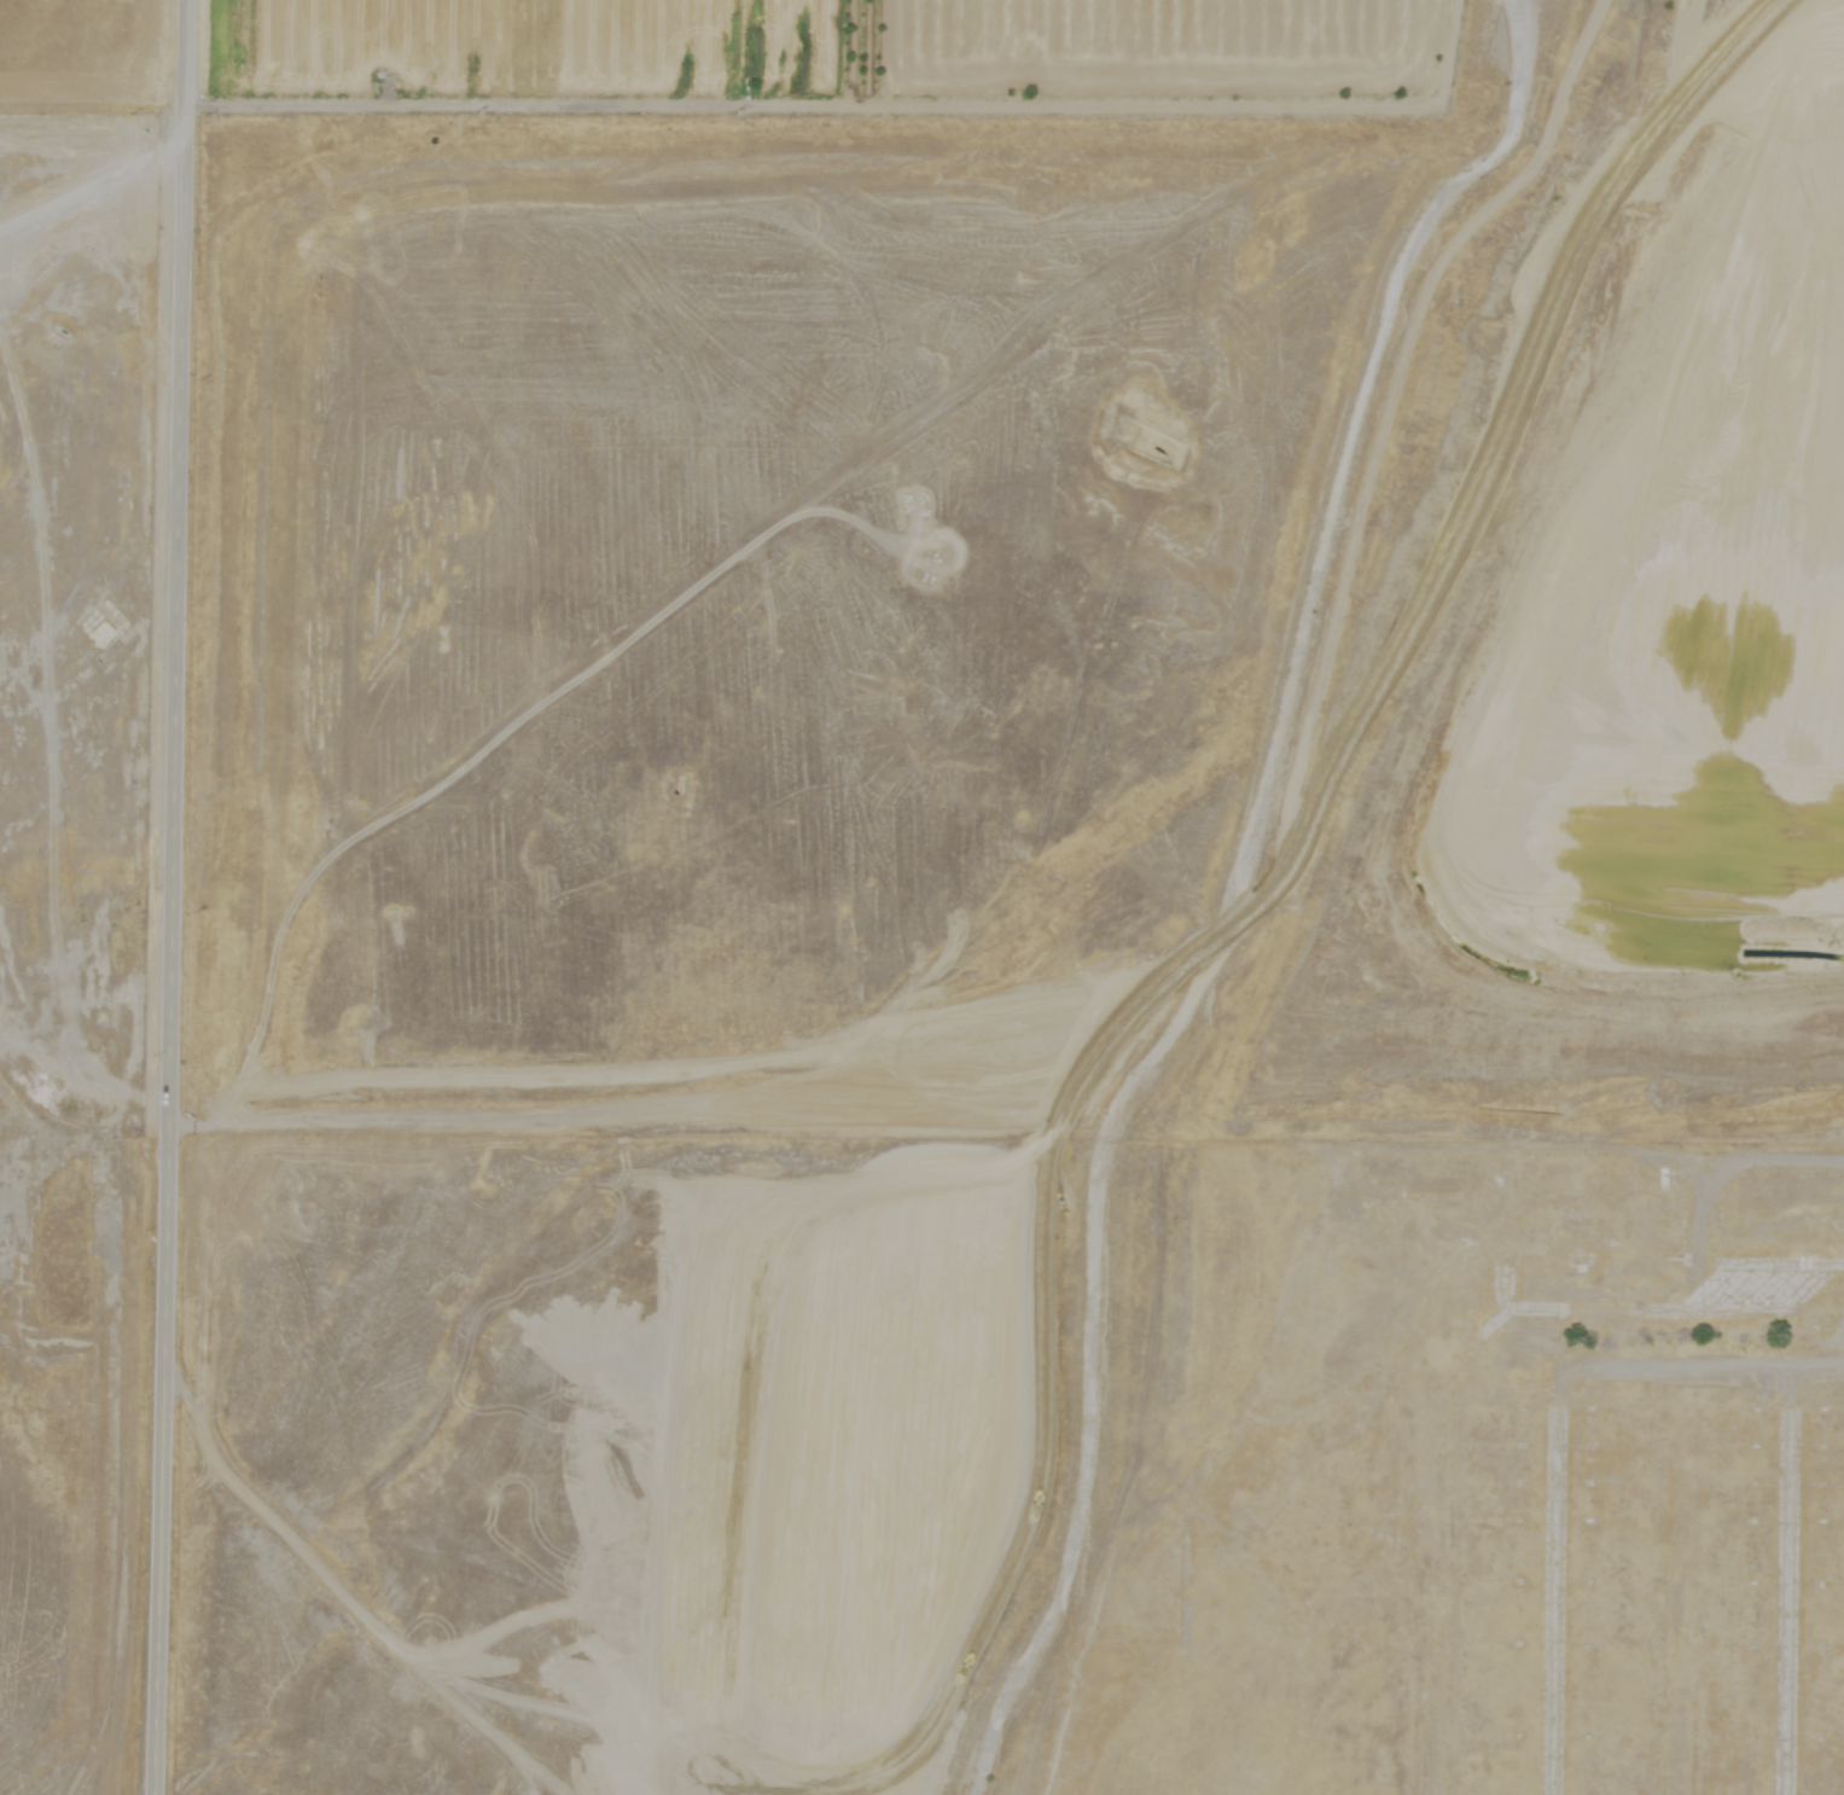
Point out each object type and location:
crop: (737, 50)
road: (91, 163)
road: (93, 370)
road: (170, 898)
road: (595, 1115)
road: (1691, 1190)
road: (1636, 1372)
road: (1447, 1545)
road: (1788, 1580)
road: (1543, 1587)

